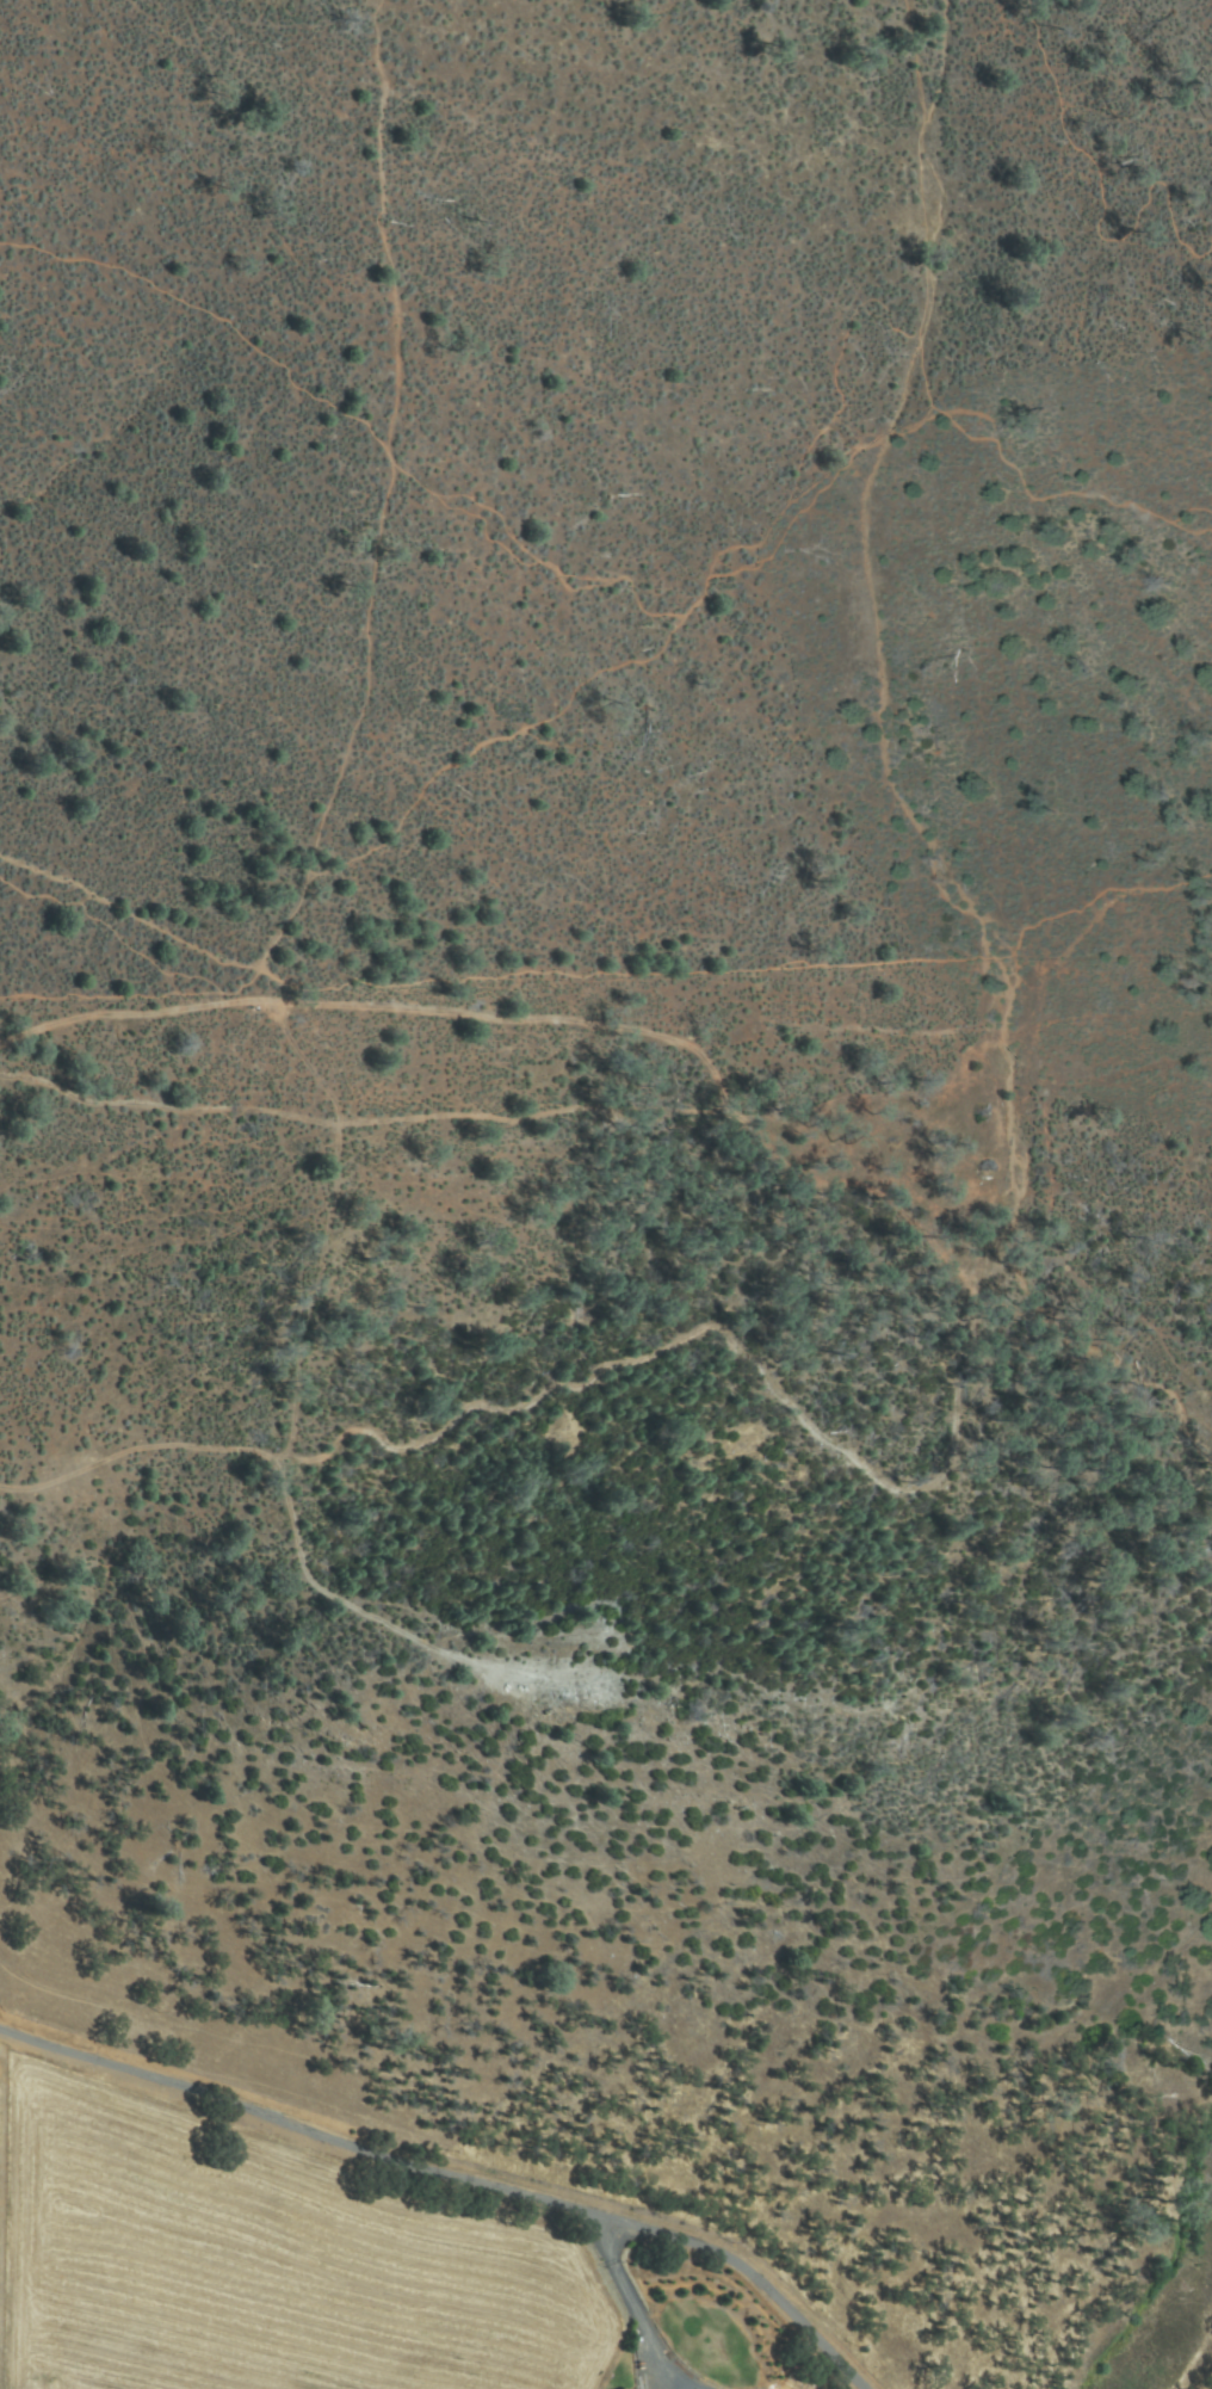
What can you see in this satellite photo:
road: (605, 980)
road: (455, 2174)

